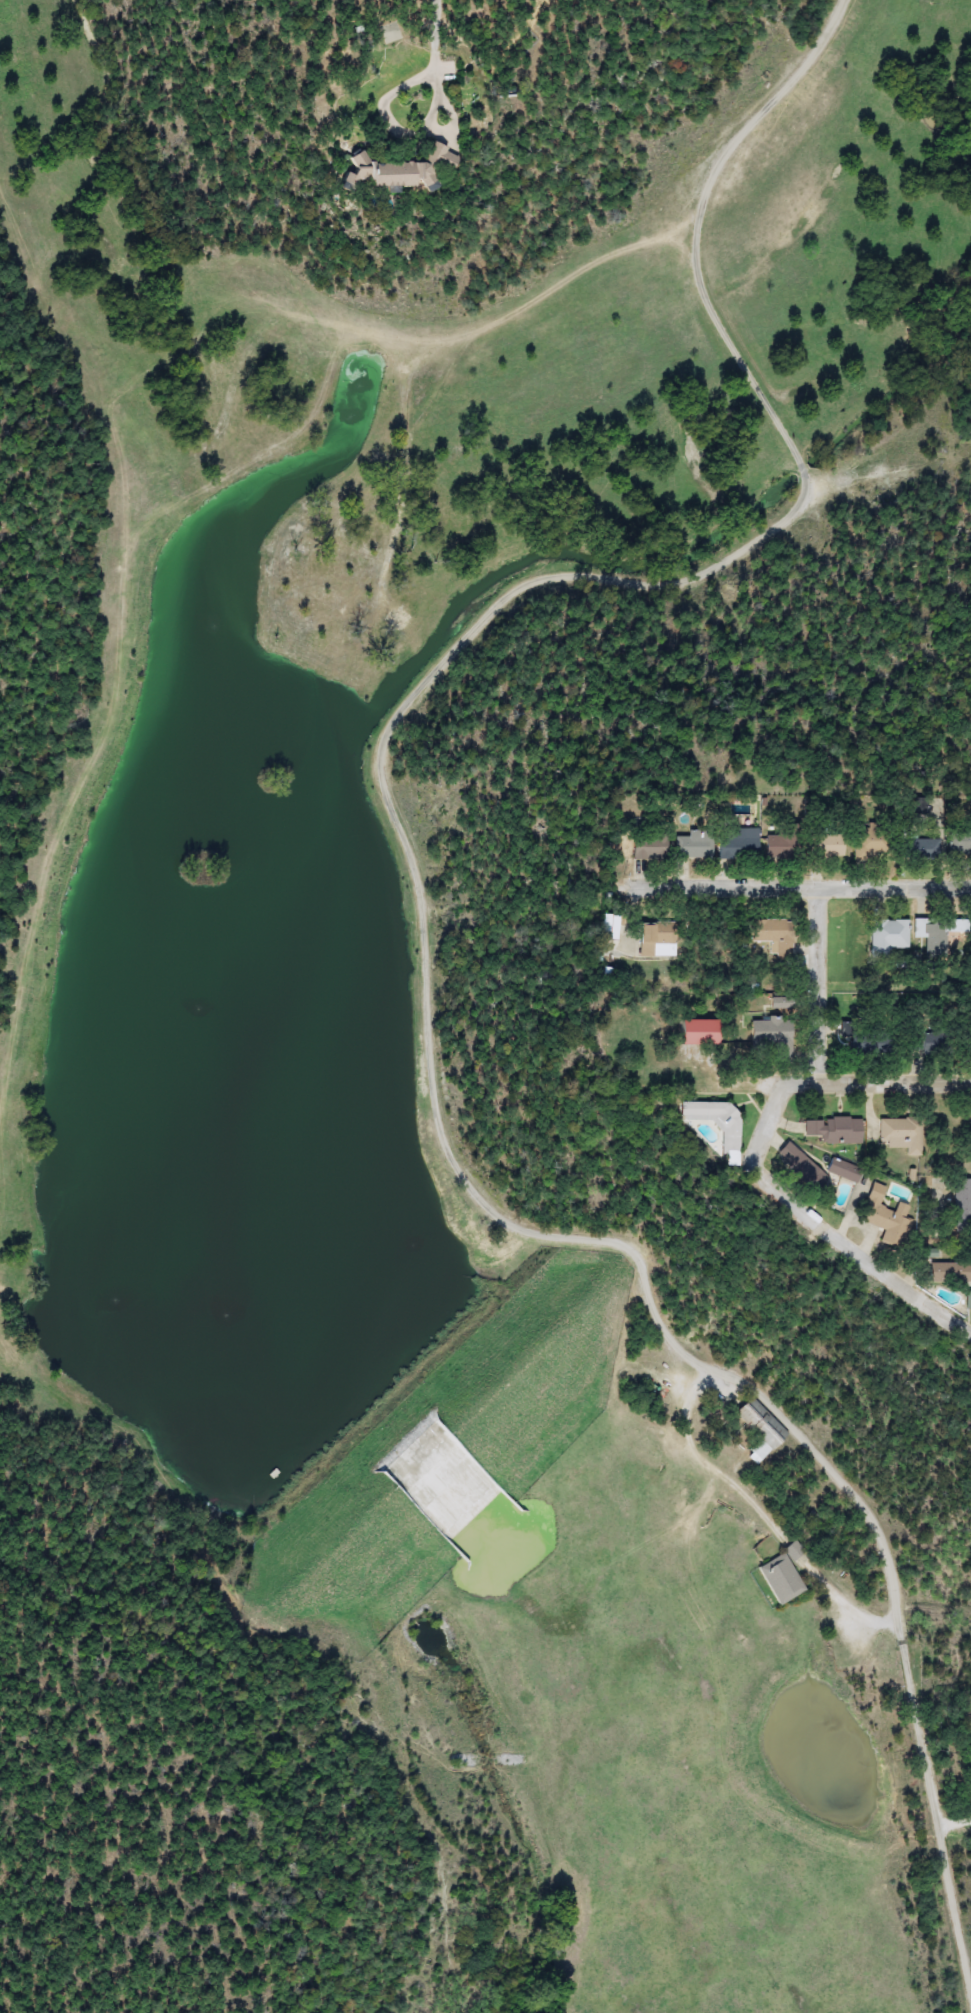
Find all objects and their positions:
building: (387, 33)
road: (441, 33)
road: (386, 103)
road: (756, 120)
building: (402, 170)
road: (740, 364)
building: (869, 842)
building: (959, 843)
building: (739, 844)
building: (828, 844)
building: (694, 845)
building: (783, 845)
building: (650, 847)
building: (618, 848)
building: (923, 850)
road: (805, 880)
building: (960, 926)
building: (611, 927)
building: (774, 935)
building: (931, 935)
building: (887, 937)
building: (658, 940)
road: (828, 977)
building: (781, 1003)
building: (702, 1033)
building: (774, 1037)
building: (863, 1040)
building: (969, 1040)
building: (930, 1046)
road: (901, 1071)
building: (718, 1123)
building: (835, 1130)
building: (902, 1135)
building: (817, 1168)
road: (480, 1195)
building: (962, 1206)
building: (885, 1213)
road: (798, 1218)
building: (951, 1272)
building: (969, 1301)
building: (758, 1436)
dam: (440, 1455)
building: (783, 1574)

